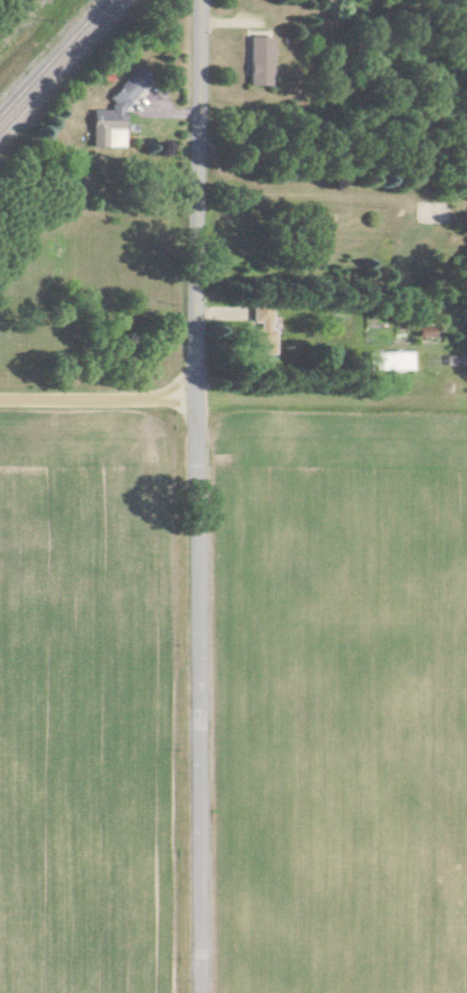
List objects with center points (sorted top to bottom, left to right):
railway: (52, 56)
building: (260, 61)
railway: (59, 64)
building: (266, 332)
road: (101, 399)
road: (202, 496)

